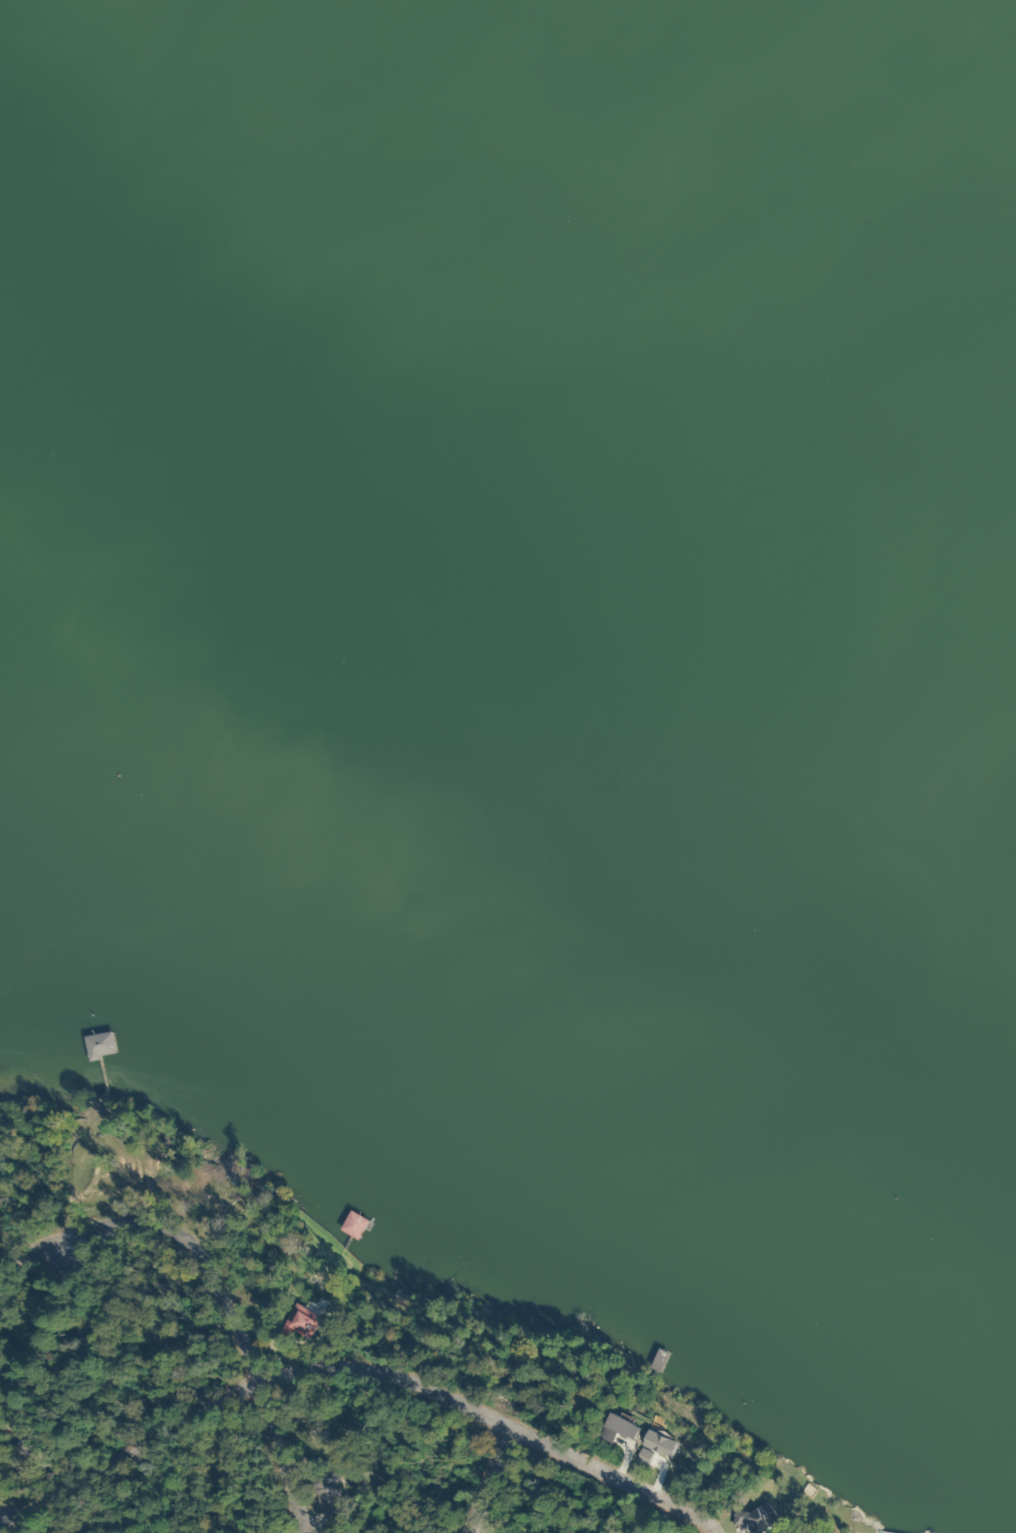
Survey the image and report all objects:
building: (99, 1046)
road: (147, 1193)
building: (351, 1226)
building: (292, 1323)
road: (372, 1328)
road: (325, 1455)
road: (268, 1470)
building: (327, 1497)
road: (756, 1515)
building: (748, 1519)

